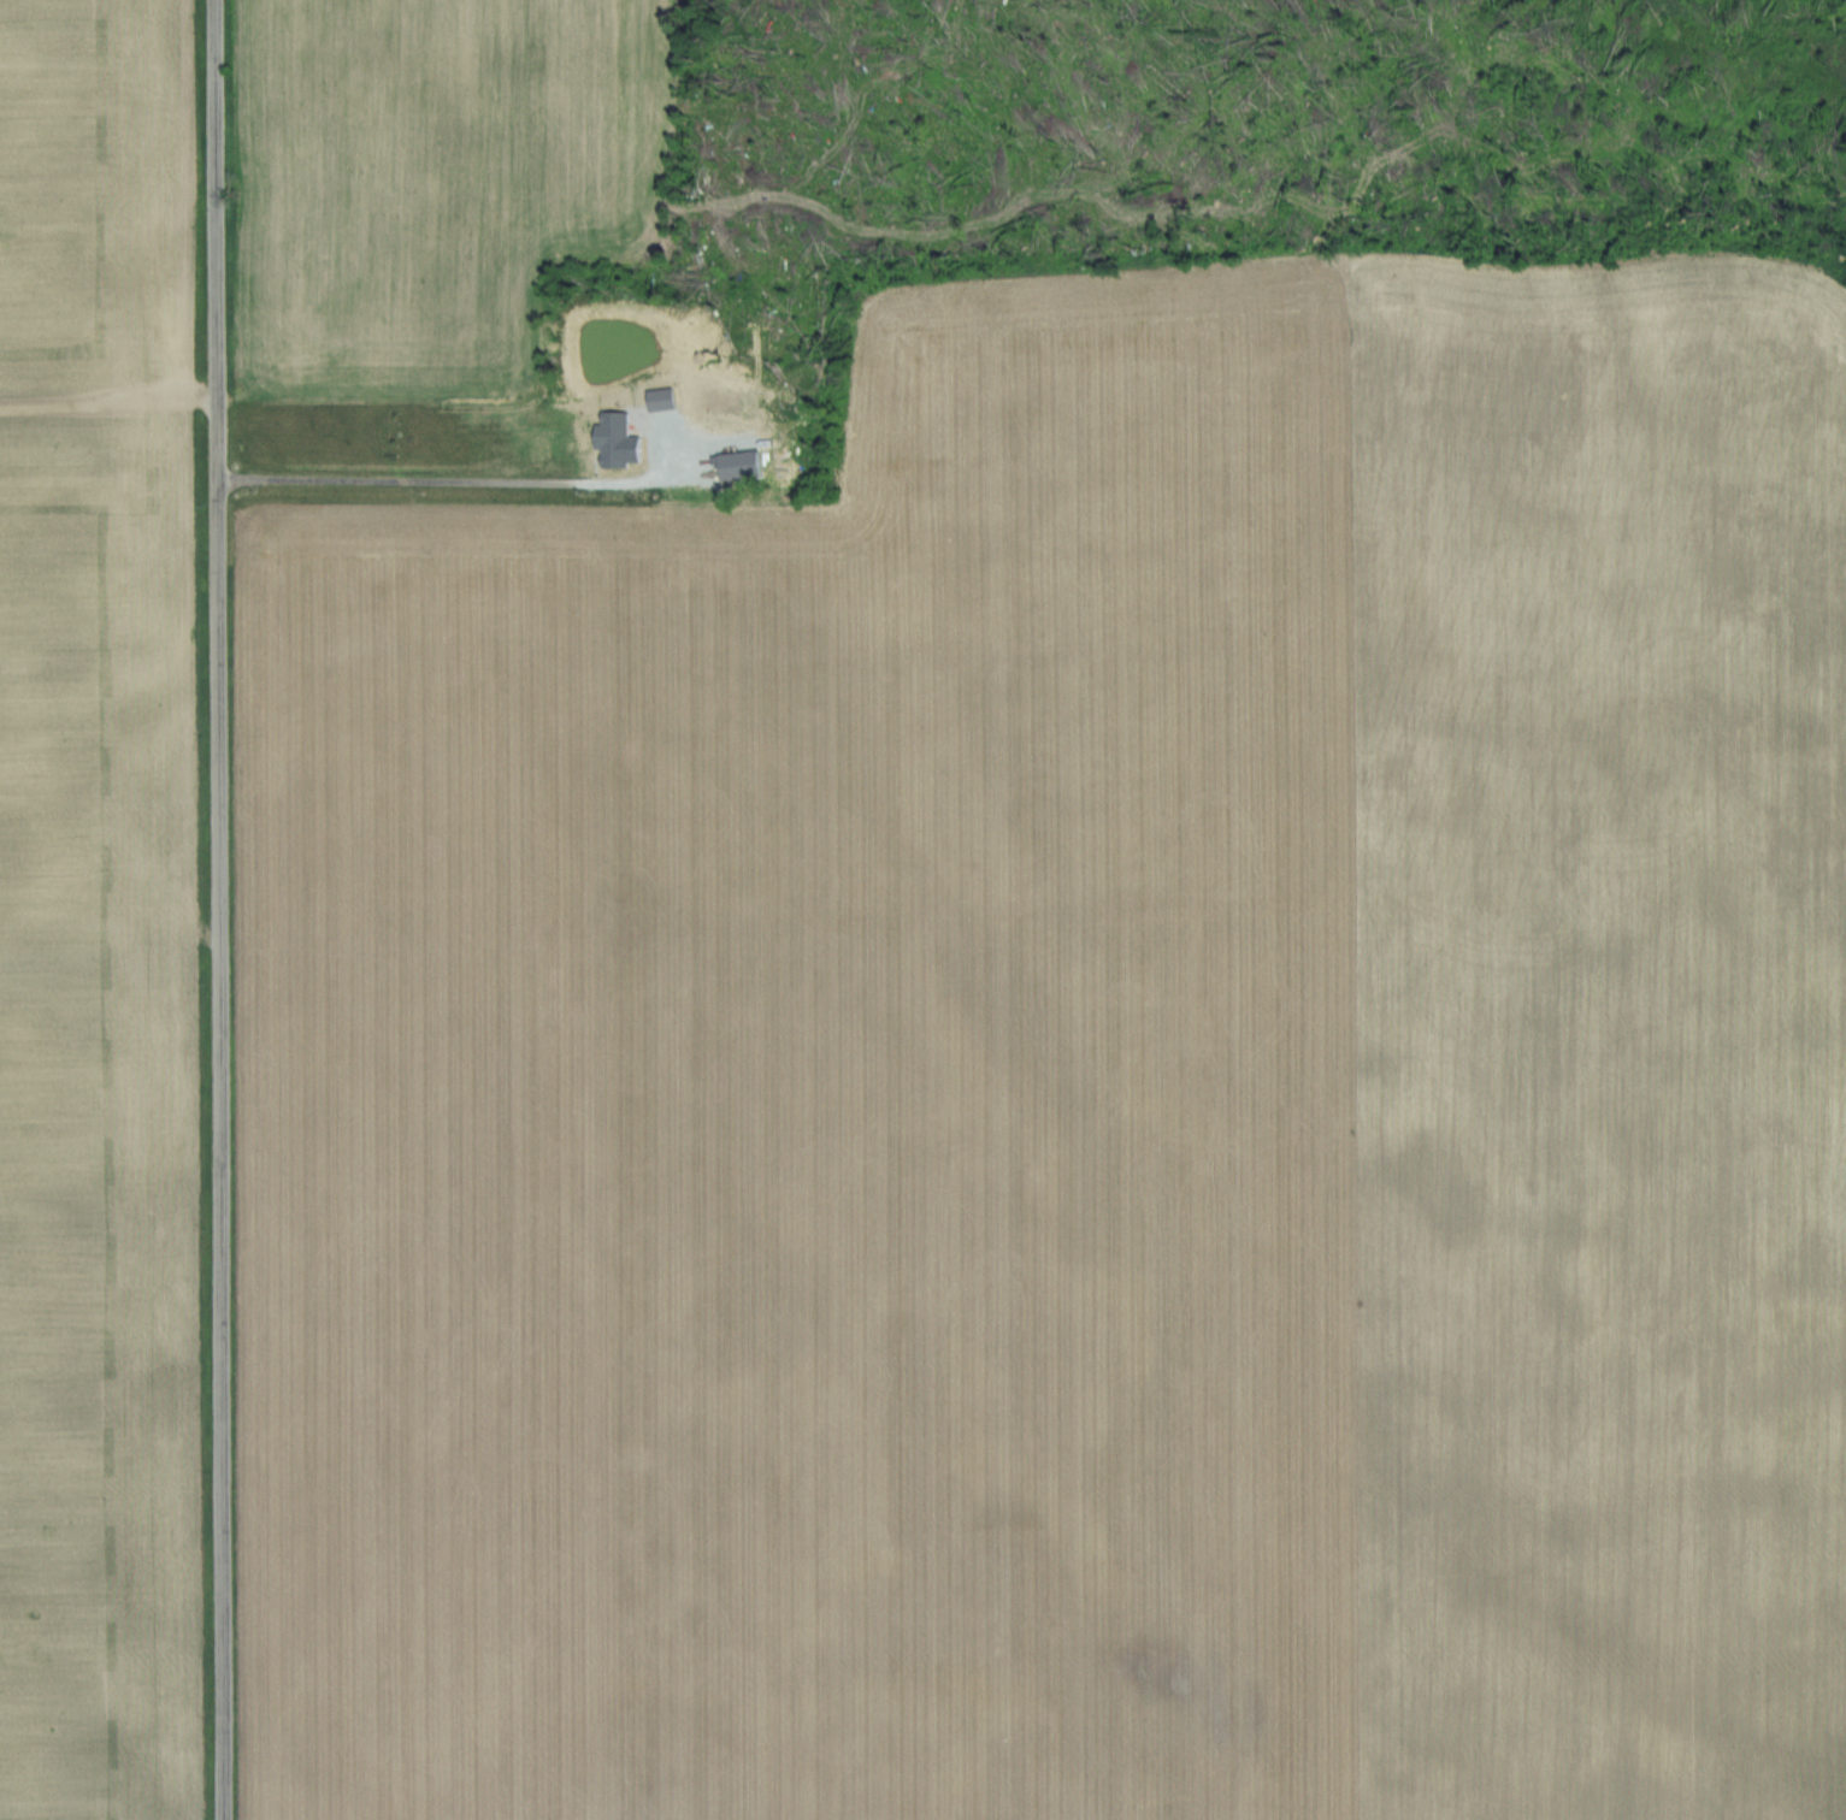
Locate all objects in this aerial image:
road: (108, 372)
building: (656, 398)
building: (733, 466)
road: (456, 525)
road: (219, 909)

